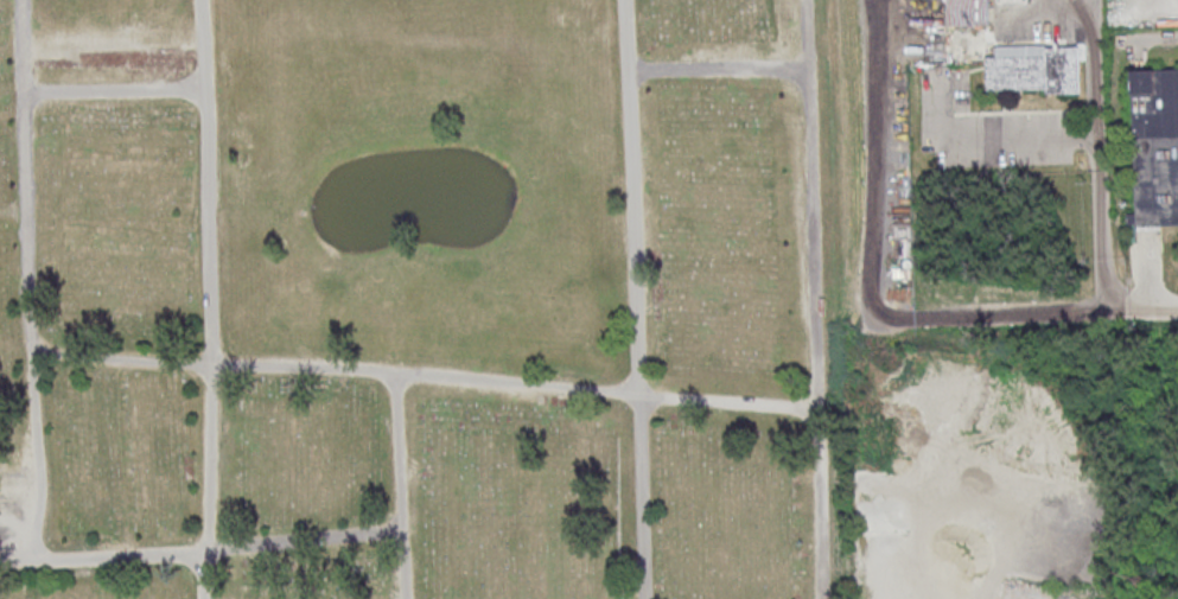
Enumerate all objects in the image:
building: (968, 13)
road: (806, 34)
road: (1157, 39)
road: (1095, 44)
road: (23, 50)
building: (1033, 68)
road: (992, 139)
building: (1155, 146)
road: (809, 148)
road: (1102, 225)
road: (25, 242)
road: (208, 299)
road: (636, 299)
park: (415, 300)
road: (1038, 314)
road: (424, 375)
road: (399, 485)
road: (820, 503)
road: (200, 552)

